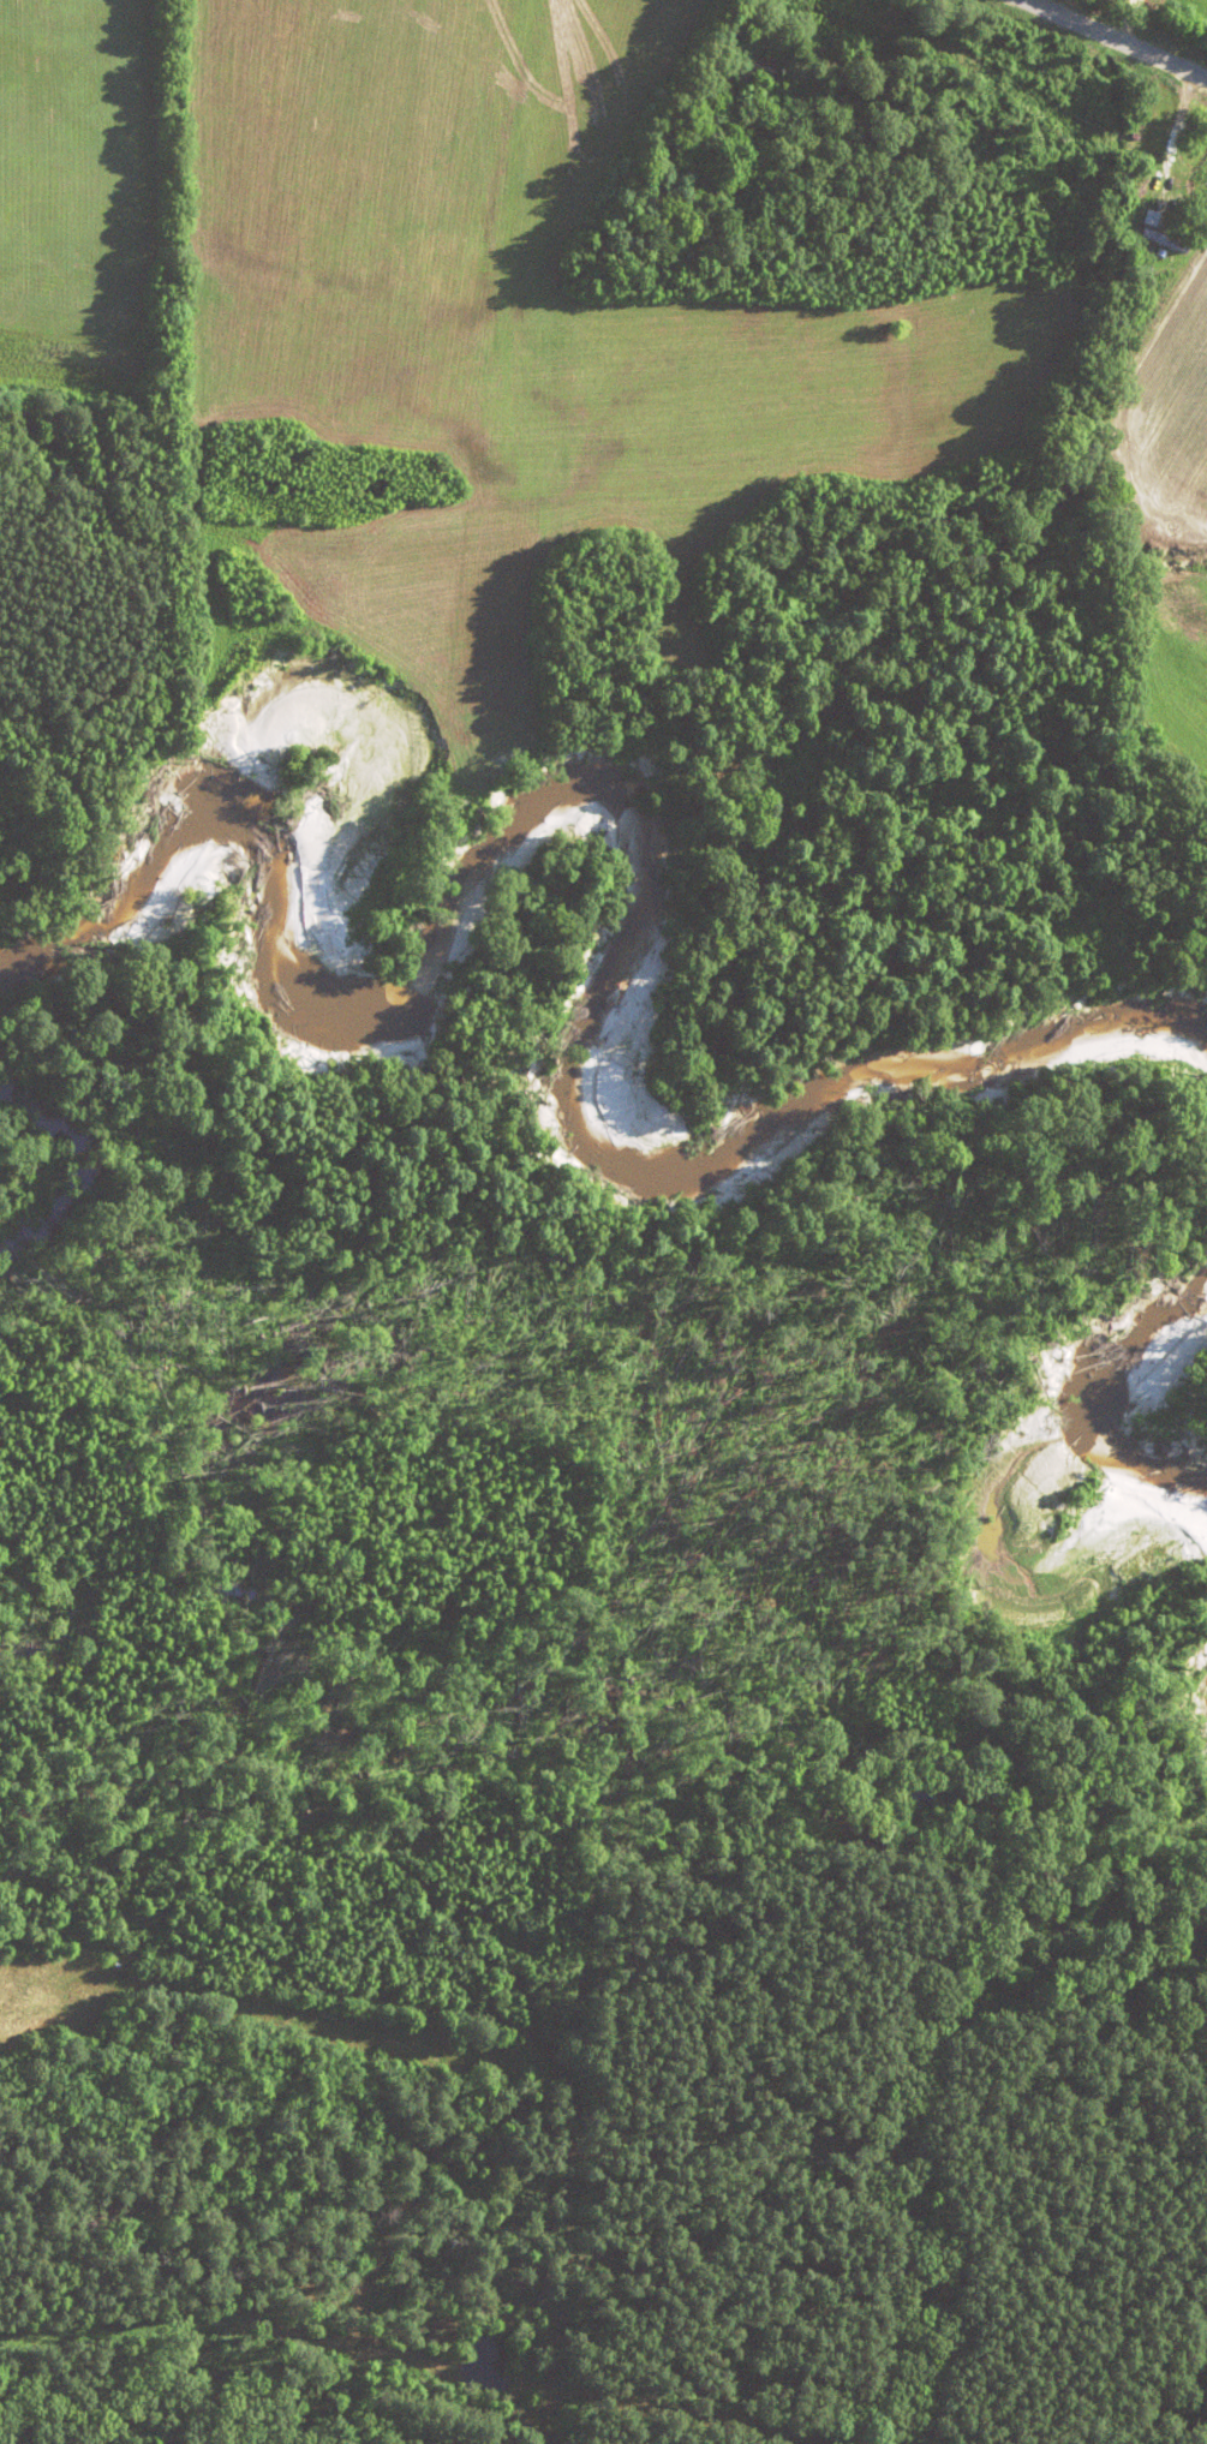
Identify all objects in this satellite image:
road: (1117, 38)
building: (757, 66)
building: (1140, 180)
building: (1148, 216)
building: (1161, 238)

